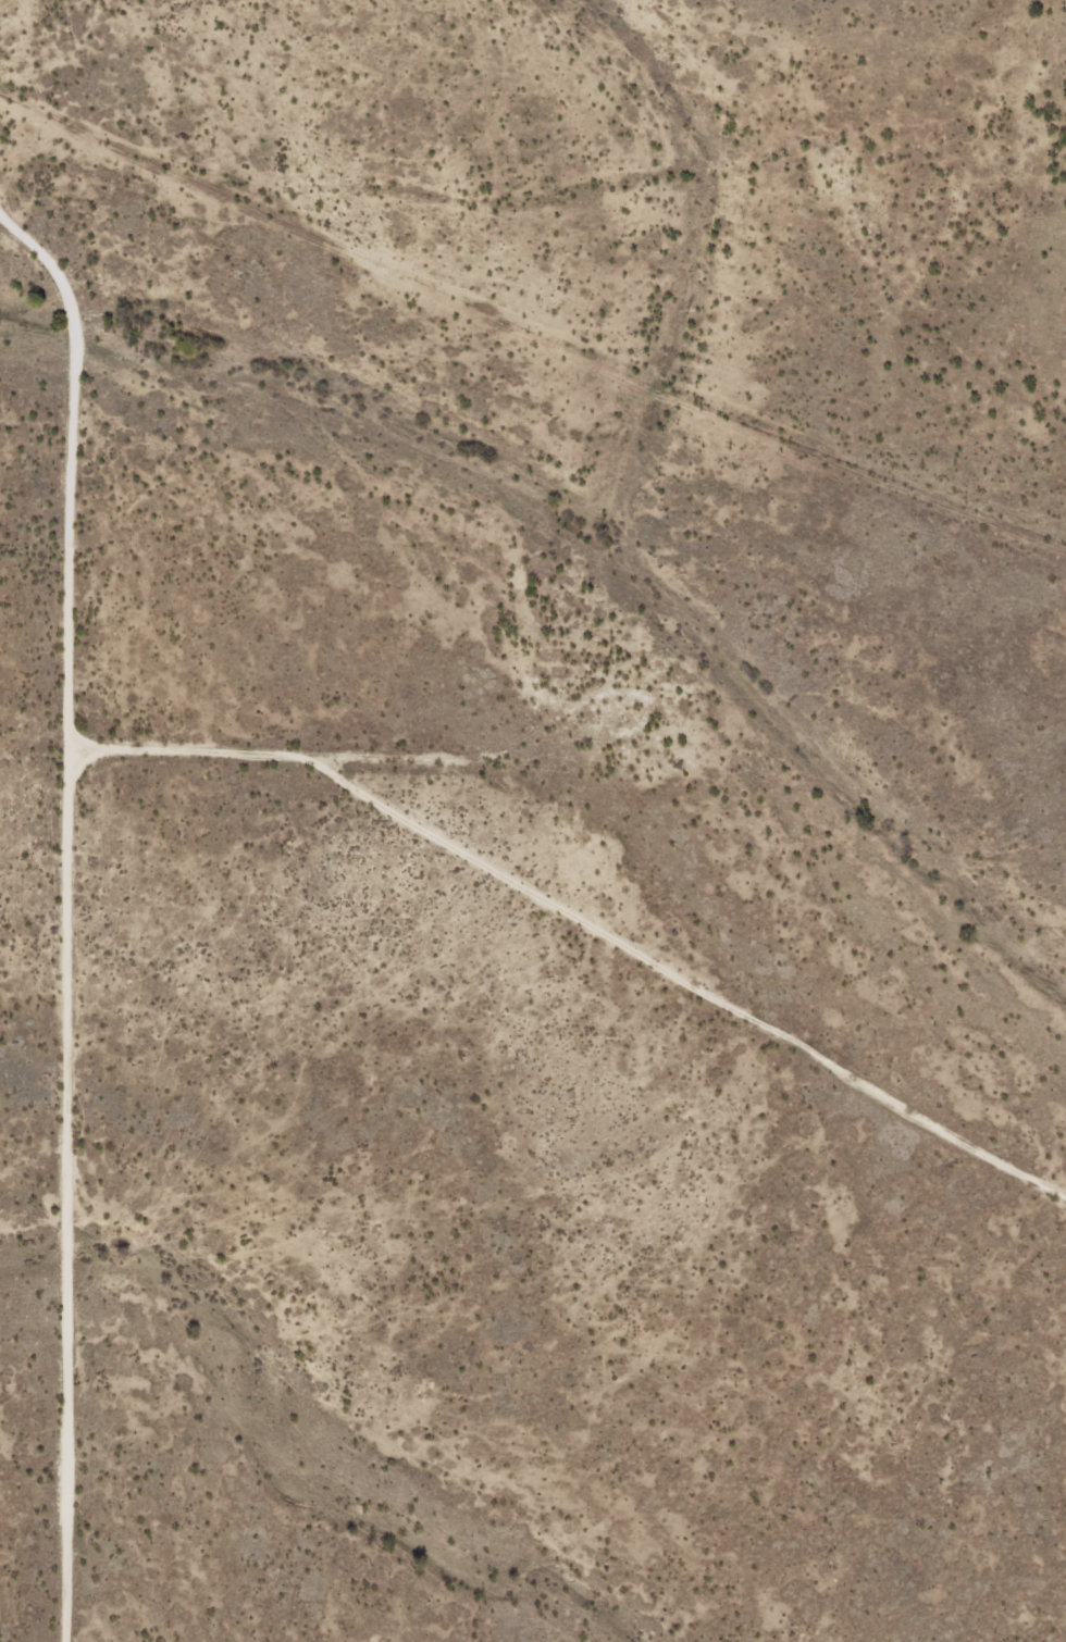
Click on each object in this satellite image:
road: (96, 921)

